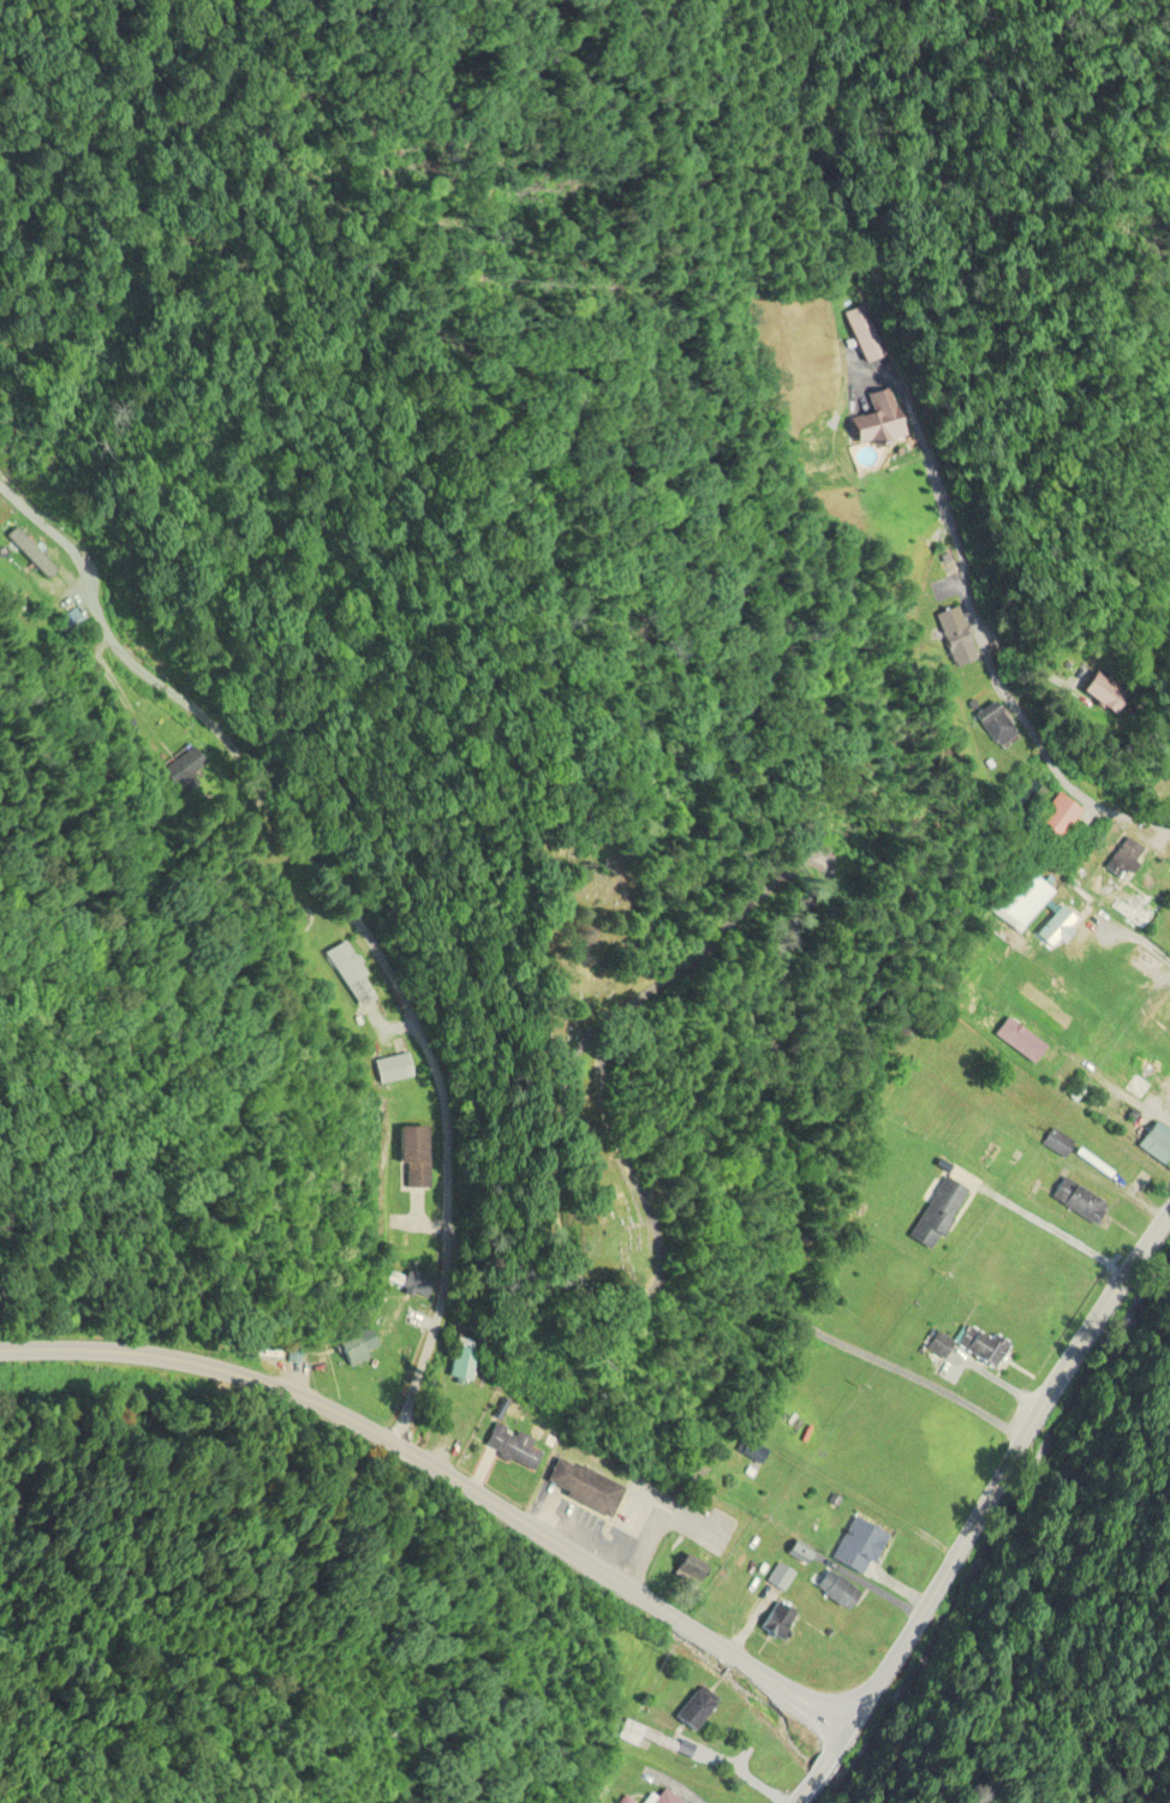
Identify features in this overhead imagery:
building: (864, 335)
road: (947, 346)
building: (878, 423)
building: (32, 575)
building: (954, 638)
building: (1120, 699)
building: (997, 726)
building: (1059, 816)
building: (1124, 859)
building: (1134, 909)
road: (326, 918)
building: (1063, 918)
building: (345, 965)
building: (1158, 1021)
park: (596, 1034)
building: (1020, 1041)
building: (393, 1069)
road: (786, 1077)
building: (1168, 1108)
building: (1055, 1145)
building: (1153, 1145)
building: (414, 1158)
building: (1075, 1201)
building: (937, 1213)
building: (407, 1285)
road: (610, 1296)
building: (978, 1347)
building: (466, 1360)
building: (515, 1447)
road: (1003, 1463)
road: (443, 1474)
road: (138, 1483)
building: (587, 1487)
building: (855, 1546)
building: (692, 1568)
building: (834, 1592)
building: (776, 1620)
building: (696, 1709)
building: (633, 1735)
road: (812, 1765)
building: (661, 1798)

